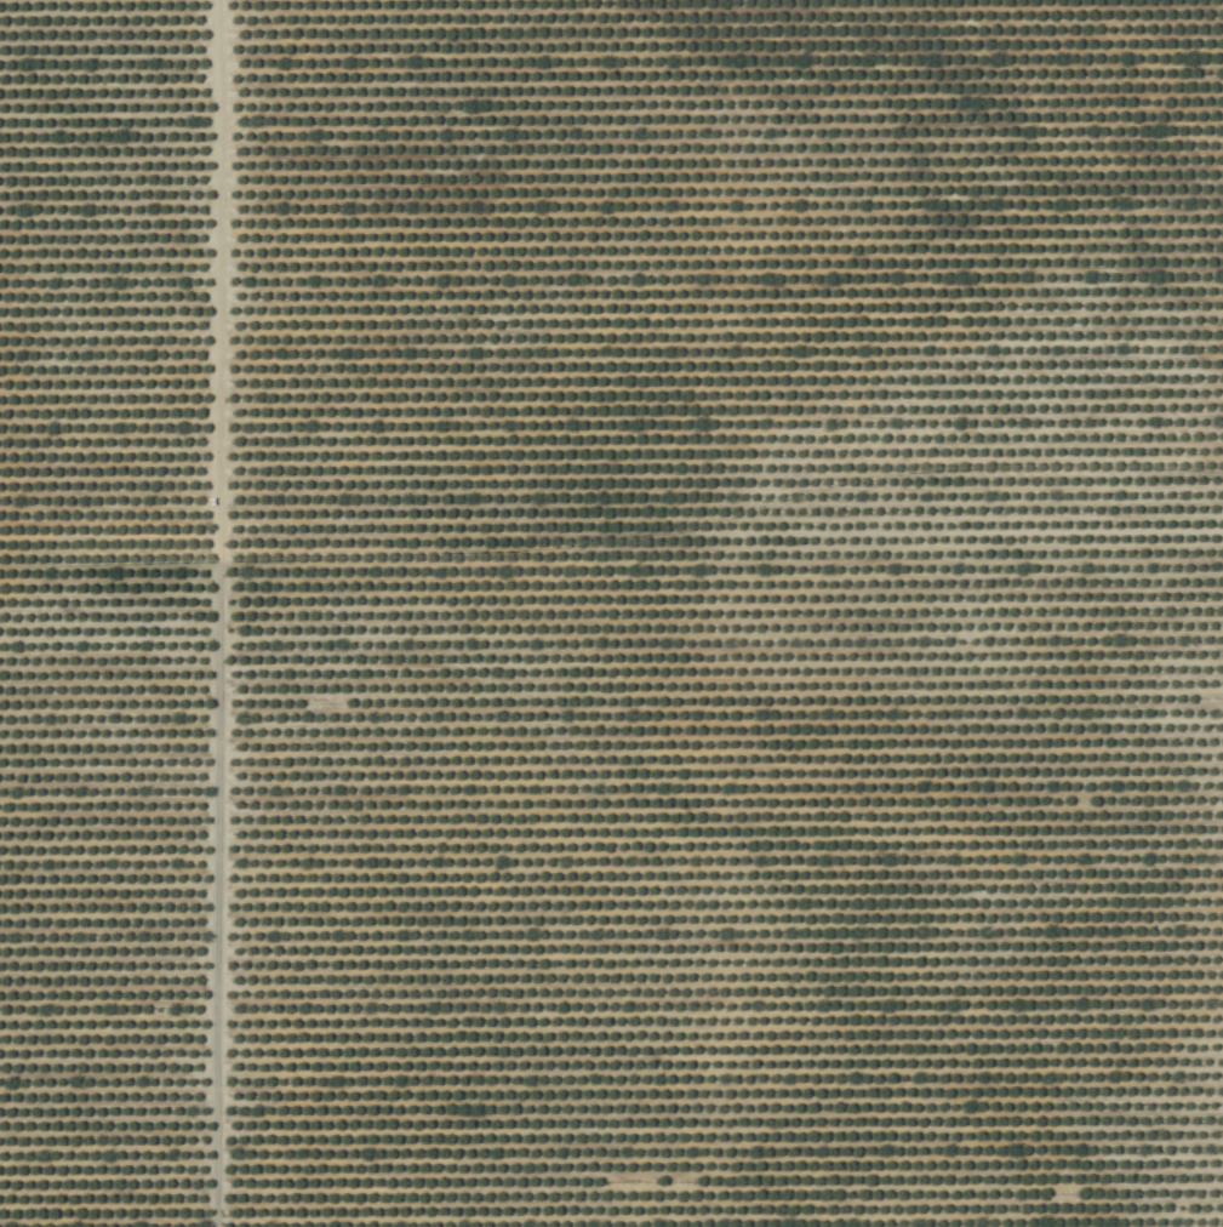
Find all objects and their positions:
road: (210, 613)
crop: (611, 613)

